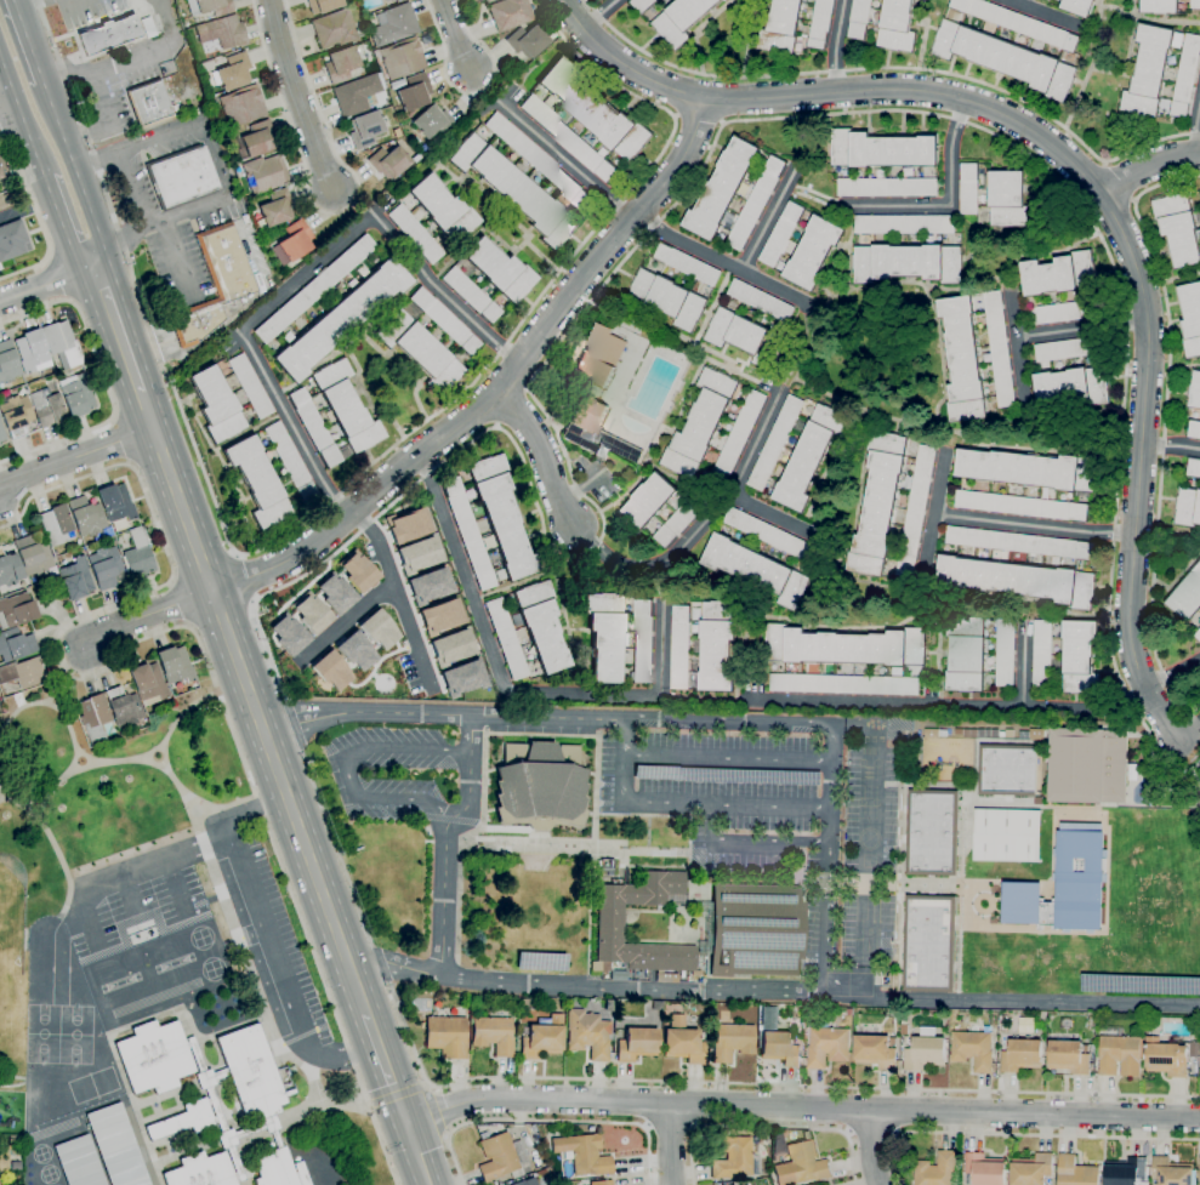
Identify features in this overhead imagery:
road: (15, 0)
building: (387, 0)
building: (477, 0)
building: (483, 0)
road: (1022, 1)
building: (1195, 4)
building: (322, 5)
building: (642, 5)
building: (1158, 6)
building: (209, 7)
road: (580, 7)
building: (1079, 7)
building: (508, 13)
road: (1045, 13)
road: (599, 15)
building: (681, 19)
building: (859, 19)
building: (820, 23)
building: (1018, 23)
building: (393, 25)
building: (897, 25)
building: (146, 27)
building: (332, 28)
building: (780, 28)
building: (221, 33)
road: (454, 34)
building: (107, 35)
road: (28, 41)
building: (527, 41)
road: (836, 45)
building: (400, 58)
building: (1005, 58)
road: (126, 59)
building: (340, 64)
road: (897, 68)
building: (232, 72)
building: (1148, 72)
building: (1185, 78)
building: (413, 92)
road: (473, 92)
road: (297, 95)
building: (356, 95)
road: (92, 102)
building: (148, 103)
road: (8, 107)
building: (240, 107)
road: (19, 112)
building: (585, 120)
building: (432, 123)
building: (364, 129)
road: (1198, 131)
road: (157, 136)
building: (256, 138)
building: (882, 149)
road: (121, 150)
road: (562, 156)
road: (704, 156)
road: (1064, 160)
road: (95, 161)
building: (388, 161)
road: (1149, 167)
road: (76, 173)
building: (263, 173)
building: (0, 175)
building: (182, 177)
building: (522, 181)
building: (968, 186)
road: (224, 187)
building: (887, 187)
building: (722, 188)
road: (127, 190)
road: (813, 194)
building: (1007, 198)
building: (757, 201)
road: (949, 205)
road: (25, 209)
building: (273, 209)
building: (443, 209)
road: (335, 213)
road: (39, 218)
road: (768, 218)
road: (159, 220)
road: (59, 223)
building: (904, 223)
building: (1178, 228)
building: (781, 232)
building: (414, 234)
building: (12, 240)
building: (291, 243)
building: (814, 252)
road: (721, 262)
building: (686, 263)
building: (908, 263)
road: (309, 272)
building: (1058, 274)
road: (56, 279)
building: (489, 279)
road: (46, 283)
building: (214, 284)
building: (314, 287)
road: (444, 291)
building: (667, 298)
building: (761, 300)
building: (1068, 311)
building: (1190, 317)
building: (340, 320)
road: (118, 331)
road: (1081, 331)
building: (744, 336)
road: (1016, 338)
building: (426, 340)
road: (804, 341)
building: (62, 342)
building: (999, 347)
building: (1070, 348)
building: (32, 352)
building: (602, 355)
building: (962, 359)
building: (7, 363)
road: (104, 381)
building: (250, 386)
road: (499, 386)
building: (1071, 387)
building: (1194, 389)
building: (75, 394)
building: (216, 404)
building: (346, 406)
building: (47, 408)
building: (15, 416)
road: (292, 423)
building: (699, 425)
building: (313, 427)
building: (1194, 428)
building: (595, 431)
road: (1161, 431)
building: (1, 435)
building: (0, 440)
building: (735, 440)
road: (1170, 446)
building: (797, 451)
road: (541, 454)
road: (74, 457)
building: (1193, 466)
building: (1031, 469)
building: (268, 474)
building: (648, 500)
road: (330, 501)
building: (877, 502)
building: (115, 503)
building: (1023, 505)
building: (1188, 507)
building: (915, 511)
road: (937, 511)
road: (770, 515)
building: (87, 519)
road: (710, 523)
building: (56, 524)
building: (489, 524)
building: (675, 524)
building: (406, 525)
road: (1035, 526)
building: (772, 535)
building: (1022, 542)
building: (137, 554)
building: (417, 554)
building: (33, 556)
building: (104, 568)
building: (756, 569)
building: (8, 570)
building: (356, 571)
road: (244, 579)
building: (75, 580)
building: (1017, 580)
road: (658, 582)
building: (428, 585)
building: (332, 593)
building: (1187, 596)
road: (398, 597)
building: (16, 611)
building: (309, 613)
road: (148, 615)
building: (439, 616)
road: (68, 622)
road: (345, 623)
building: (377, 629)
building: (528, 632)
building: (1198, 633)
building: (286, 634)
building: (619, 639)
building: (15, 644)
building: (703, 644)
building: (844, 645)
building: (450, 646)
building: (354, 651)
building: (1005, 651)
building: (966, 654)
building: (1065, 654)
road: (1022, 662)
building: (175, 665)
building: (330, 671)
building: (23, 672)
road: (1172, 673)
building: (461, 678)
building: (147, 683)
building: (844, 684)
road: (505, 688)
road: (700, 696)
road: (946, 701)
road: (252, 705)
road: (34, 708)
building: (108, 713)
road: (1164, 716)
road: (548, 717)
road: (294, 723)
road: (1189, 736)
road: (471, 745)
road: (161, 752)
road: (727, 757)
road: (830, 757)
road: (345, 764)
building: (1088, 765)
building: (1008, 769)
road: (1196, 775)
road: (67, 776)
building: (539, 787)
road: (647, 799)
building: (1039, 801)
road: (769, 804)
road: (198, 805)
park: (90, 827)
building: (934, 832)
building: (1007, 834)
road: (769, 842)
road: (336, 849)
building: (607, 867)
road: (130, 872)
building: (1065, 884)
building: (709, 928)
road: (266, 939)
building: (933, 942)
road: (381, 963)
road: (433, 974)
building: (616, 976)
building: (662, 978)
road: (672, 989)
road: (1013, 997)
road: (332, 1009)
building: (587, 1033)
building: (493, 1035)
building: (447, 1036)
building: (541, 1038)
building: (682, 1042)
building: (730, 1042)
building: (828, 1043)
building: (636, 1044)
building: (778, 1047)
building: (973, 1049)
building: (875, 1050)
building: (925, 1053)
building: (1022, 1055)
building: (1120, 1055)
building: (1069, 1056)
building: (1166, 1056)
building: (154, 1058)
road: (385, 1066)
road: (756, 1083)
road: (396, 1094)
building: (239, 1105)
road: (802, 1106)
road: (436, 1111)
road: (546, 1121)
road: (768, 1127)
road: (671, 1129)
road: (871, 1134)
road: (1022, 1134)
road: (671, 1144)
building: (115, 1146)
road: (872, 1146)
road: (417, 1152)
building: (582, 1155)
building: (500, 1157)
building: (734, 1160)
building: (78, 1162)
building: (801, 1163)
building: (15, 1166)
building: (937, 1169)
building: (984, 1169)
building: (1031, 1169)
building: (200, 1170)
building: (1126, 1170)
building: (1076, 1172)
building: (1171, 1172)
building: (1199, 1175)
building: (525, 1183)
building: (601, 1183)
building: (744, 1184)
building: (824, 1184)

